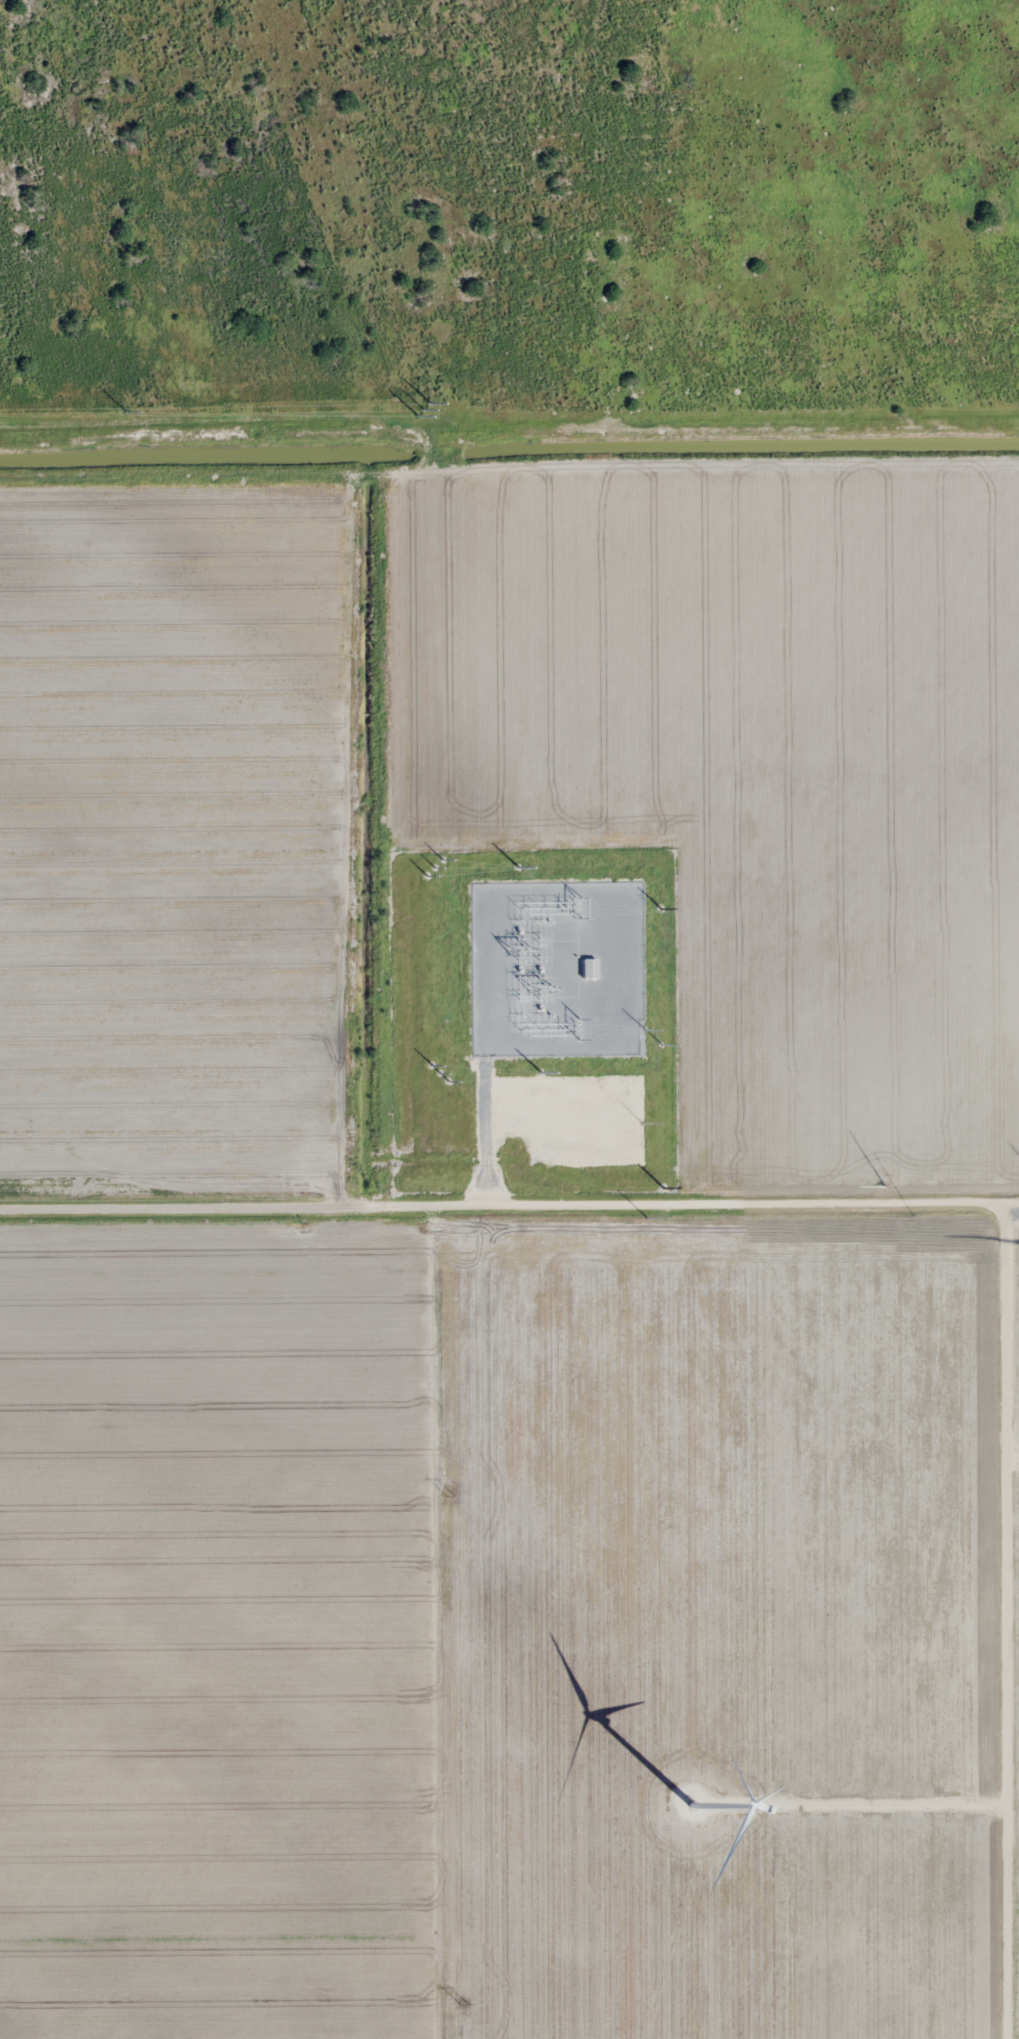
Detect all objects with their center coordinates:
power tower: (428, 447)
power tower: (519, 867)
power tower: (435, 868)
power substation: (558, 968)
road: (509, 1194)
power tower: (450, 1496)
road: (1013, 1620)
wind turbine: (672, 1805)
power tower: (464, 2004)

